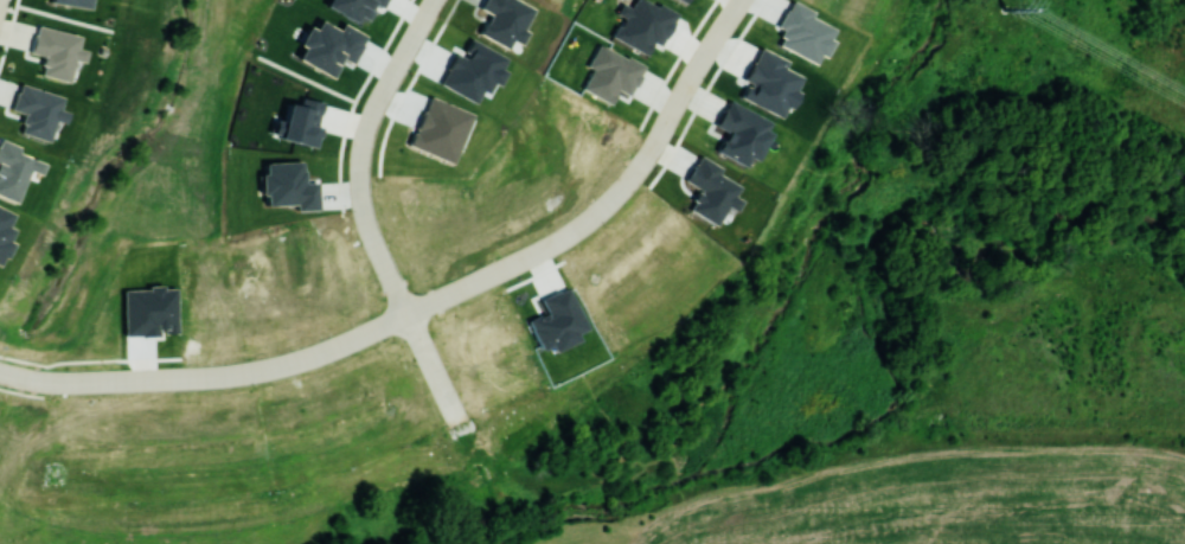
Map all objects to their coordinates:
building: (685, 0)
building: (72, 2)
power tower: (1005, 8)
road: (64, 17)
building: (640, 24)
road: (9, 30)
road: (404, 50)
building: (55, 51)
road: (305, 77)
road: (178, 78)
road: (372, 109)
building: (36, 110)
building: (300, 121)
road: (638, 165)
building: (13, 168)
park: (129, 184)
building: (709, 190)
road: (390, 273)
road: (476, 280)
road: (302, 358)
road: (23, 376)
road: (84, 380)

